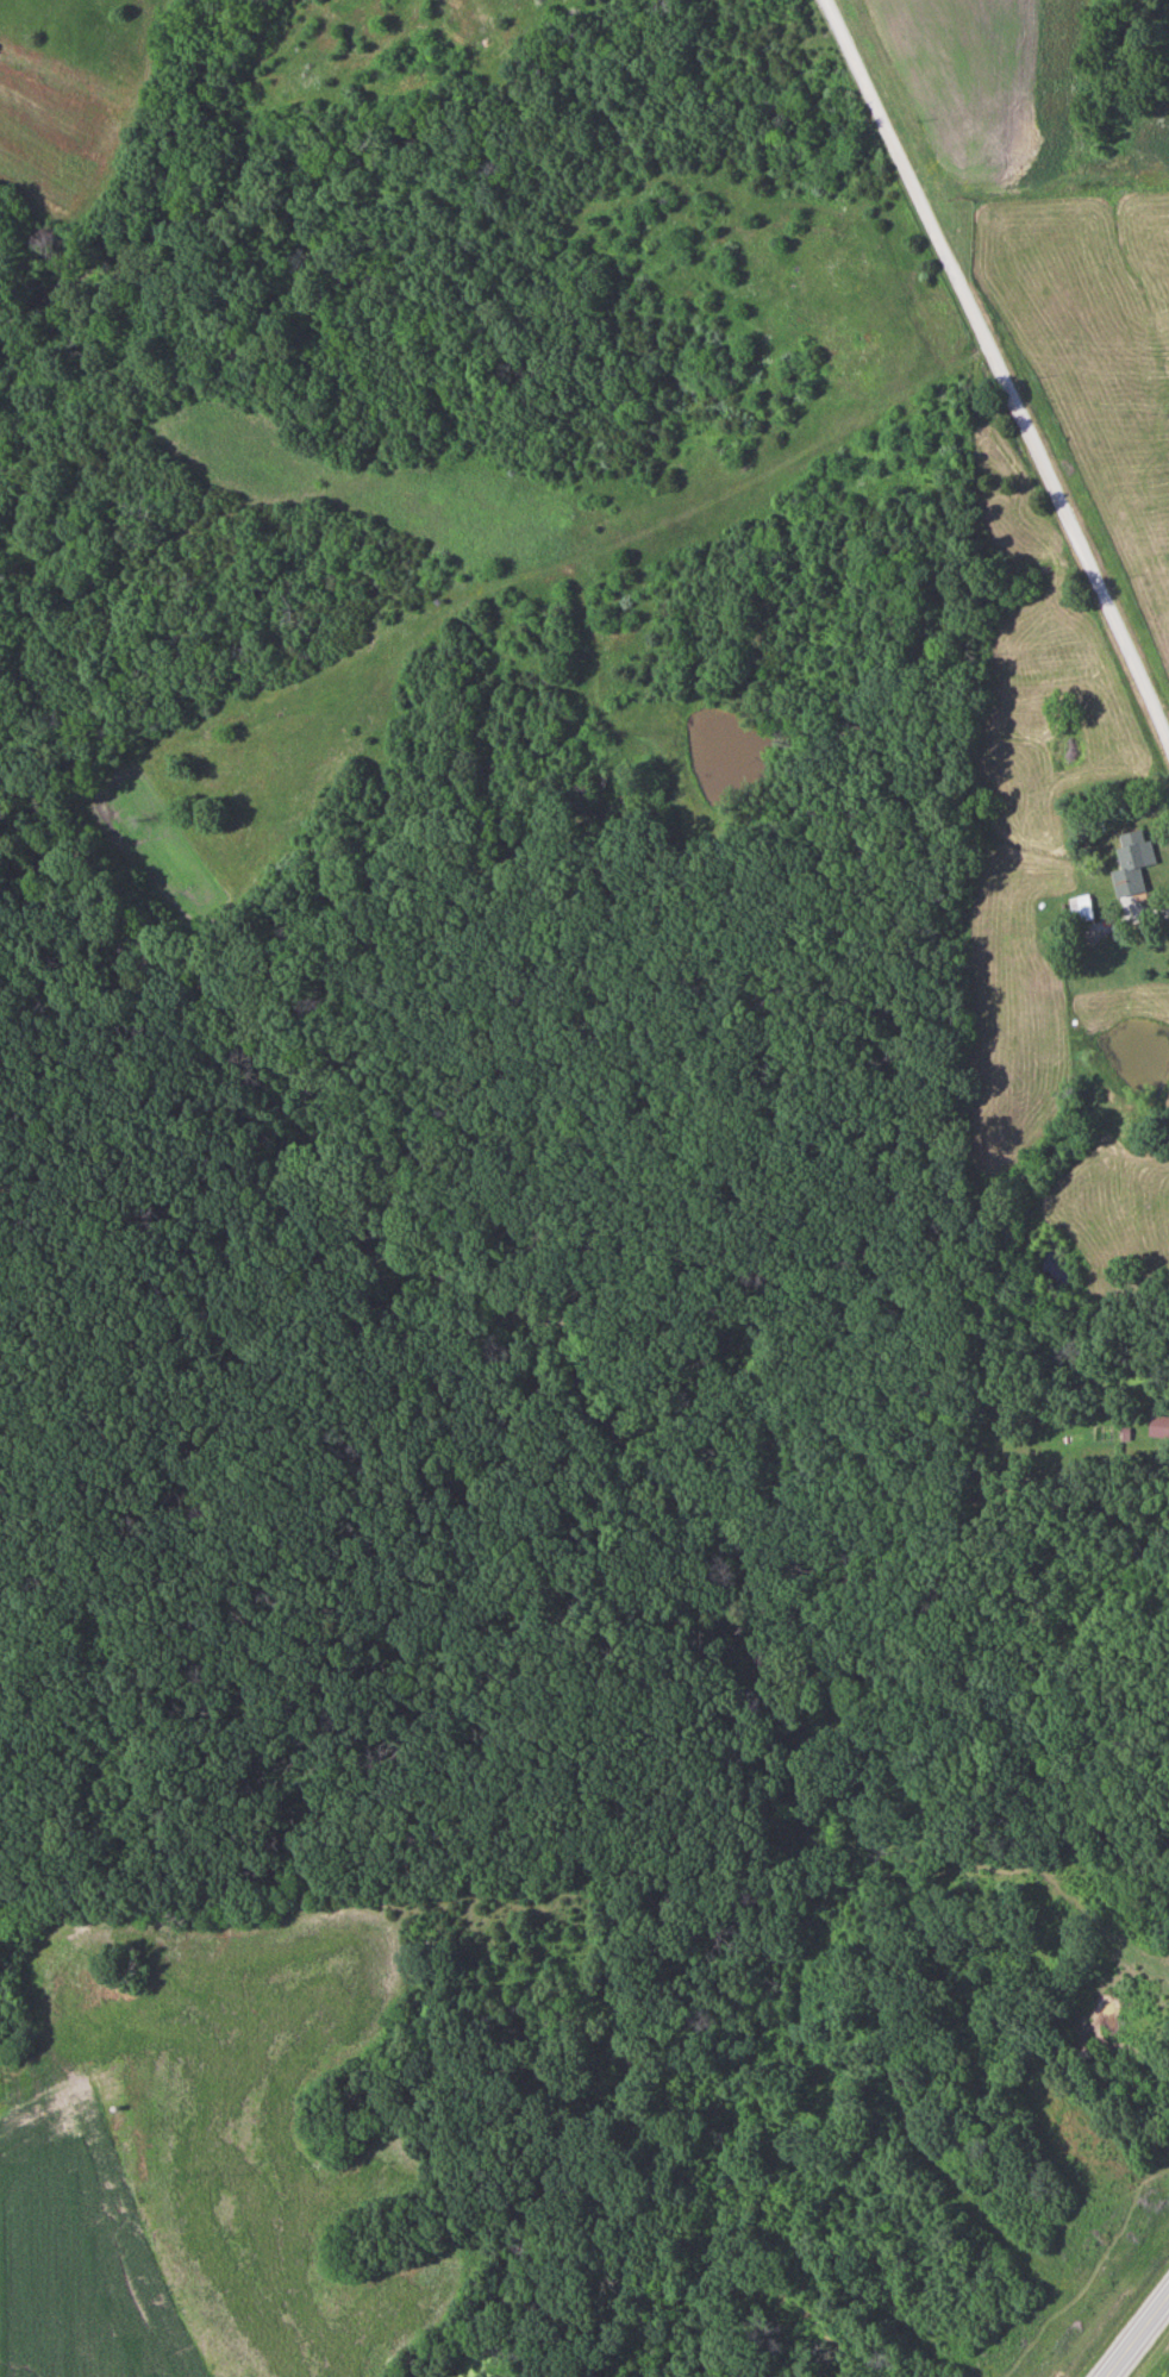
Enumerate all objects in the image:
road: (999, 368)
building: (1133, 863)
road: (1138, 2335)

